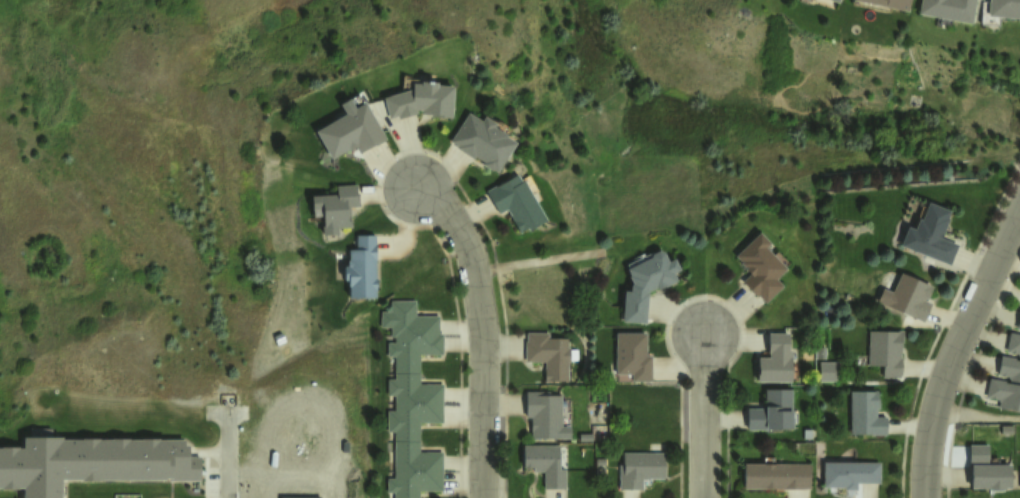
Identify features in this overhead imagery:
building: (833, 2)
building: (889, 3)
building: (1003, 8)
building: (946, 9)
building: (427, 103)
building: (351, 136)
building: (488, 144)
building: (518, 204)
building: (337, 207)
building: (931, 236)
building: (765, 270)
building: (365, 271)
building: (647, 289)
building: (907, 300)
building: (1018, 321)
road: (479, 335)
building: (1013, 343)
road: (958, 346)
building: (886, 356)
building: (633, 357)
building: (549, 358)
building: (776, 364)
building: (1006, 383)
building: (412, 399)
building: (776, 412)
road: (706, 417)
building: (549, 420)
building: (868, 420)
road: (233, 456)
building: (88, 466)
building: (547, 467)
building: (640, 471)
building: (1019, 473)
building: (853, 477)
building: (778, 478)
building: (991, 478)

